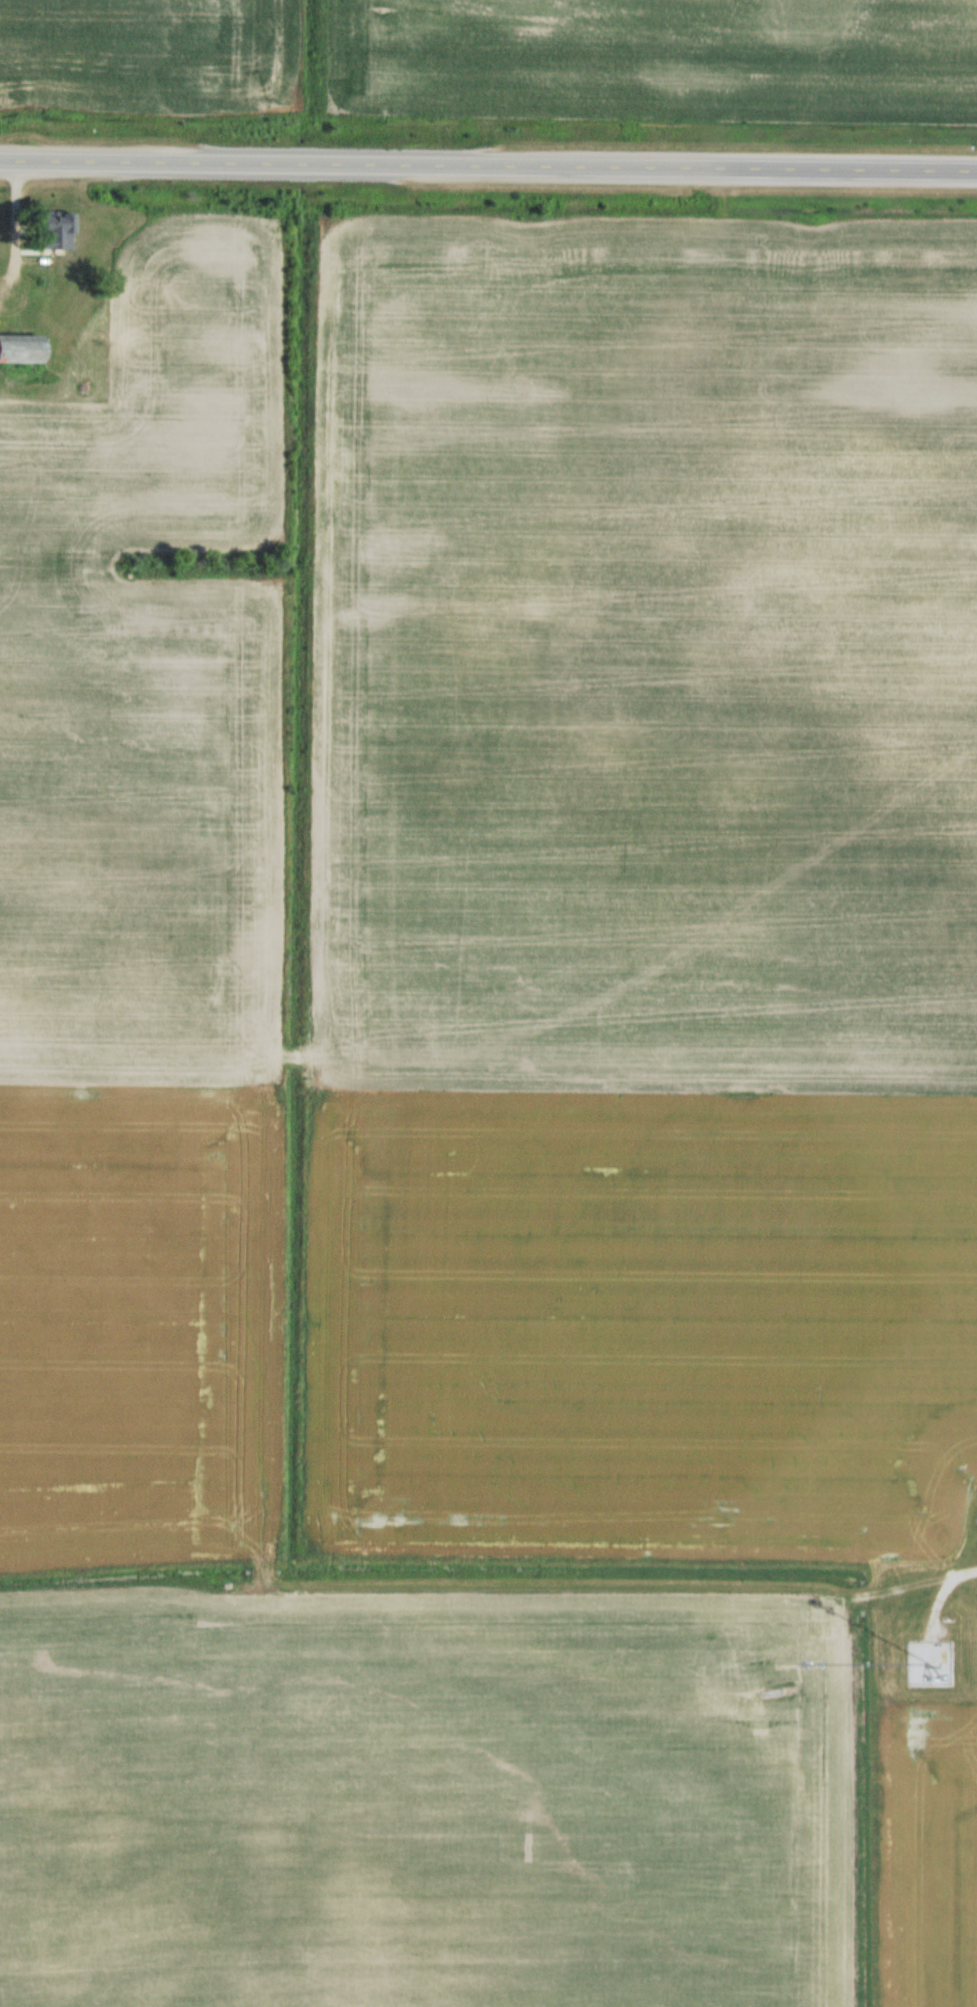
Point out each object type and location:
road: (488, 168)
building: (53, 230)
building: (17, 348)
road: (940, 1586)
building: (941, 1663)

